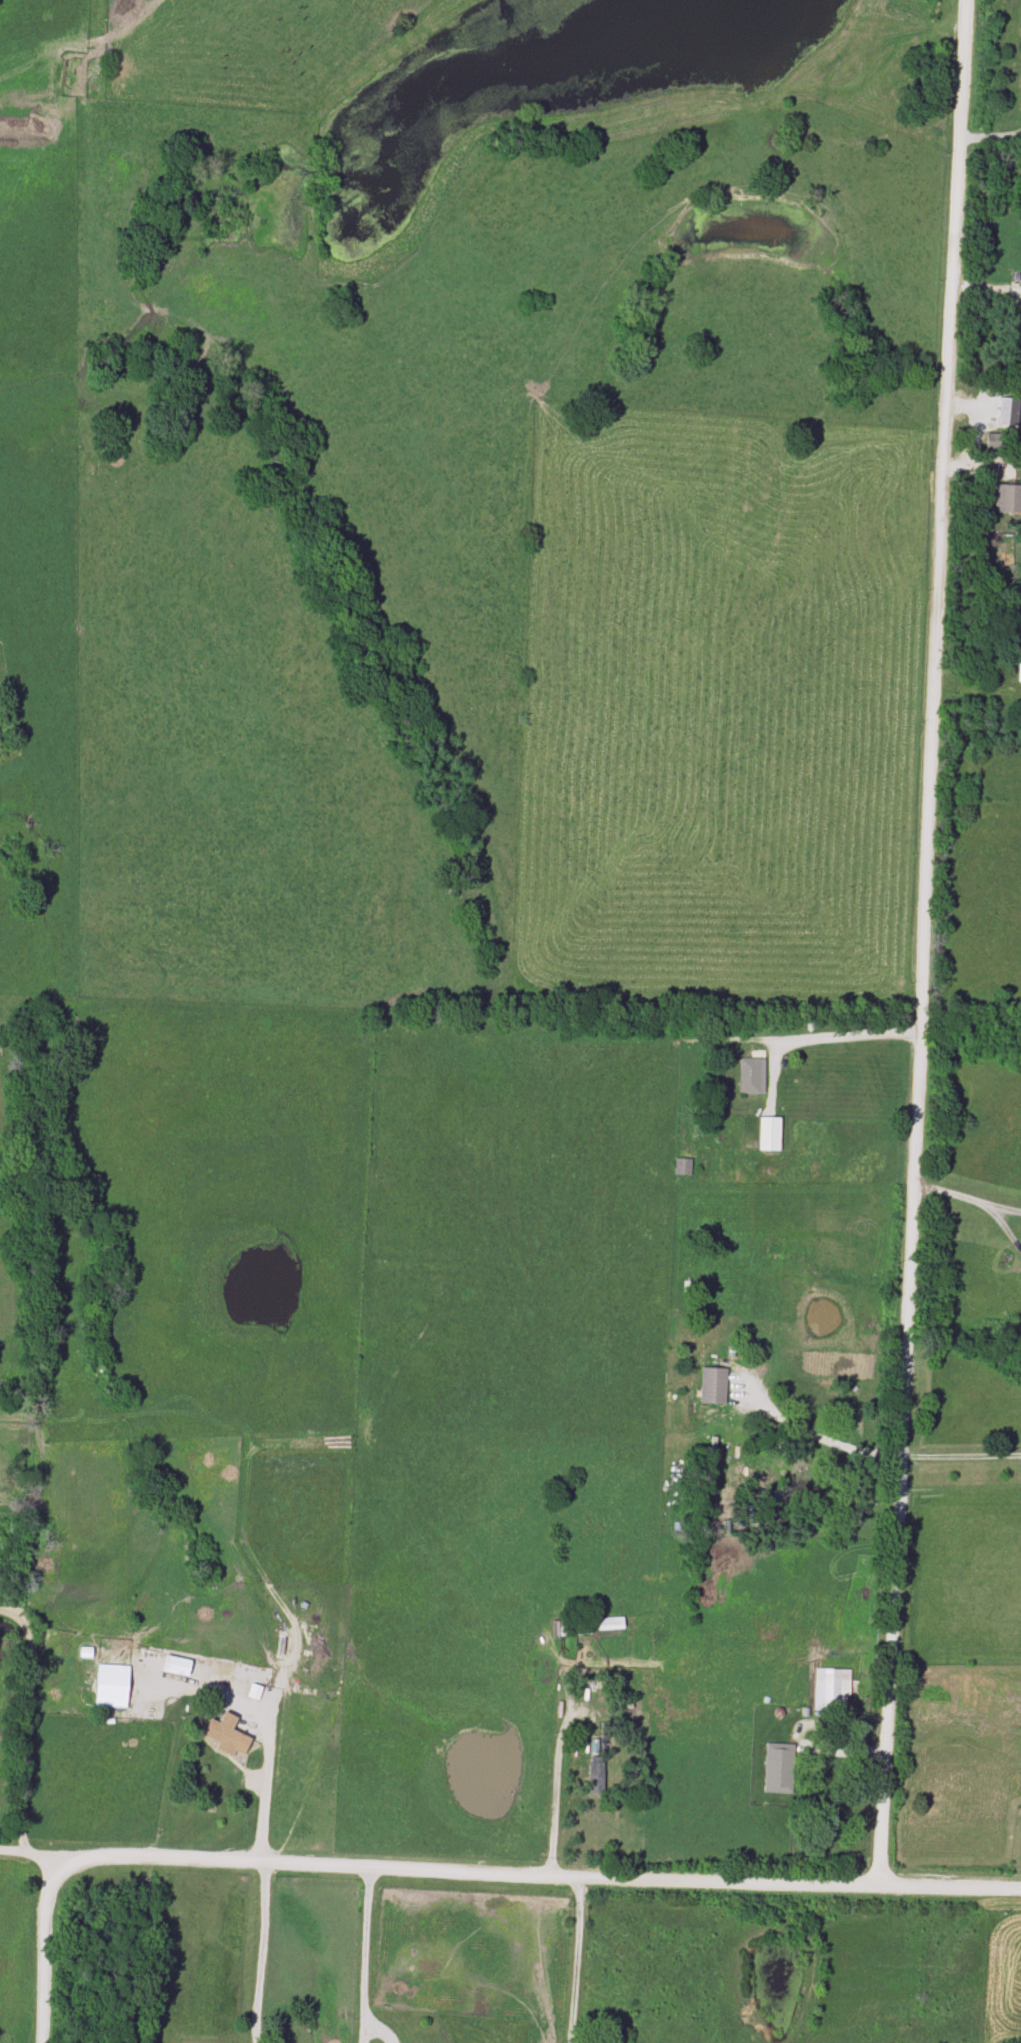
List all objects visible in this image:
building: (996, 446)
building: (1008, 499)
building: (1019, 666)
road: (923, 943)
road: (841, 1036)
building: (752, 1076)
building: (770, 1134)
building: (683, 1166)
road: (967, 1198)
building: (714, 1385)
road: (817, 1438)
road: (962, 1458)
building: (592, 1626)
building: (176, 1666)
building: (112, 1687)
building: (831, 1691)
building: (227, 1734)
road: (26, 1743)
building: (596, 1768)
building: (779, 1768)
road: (552, 1773)
road: (261, 1791)
road: (16, 1851)
road: (546, 1876)
road: (43, 1945)
road: (262, 1953)
road: (571, 1960)
road: (362, 1964)

